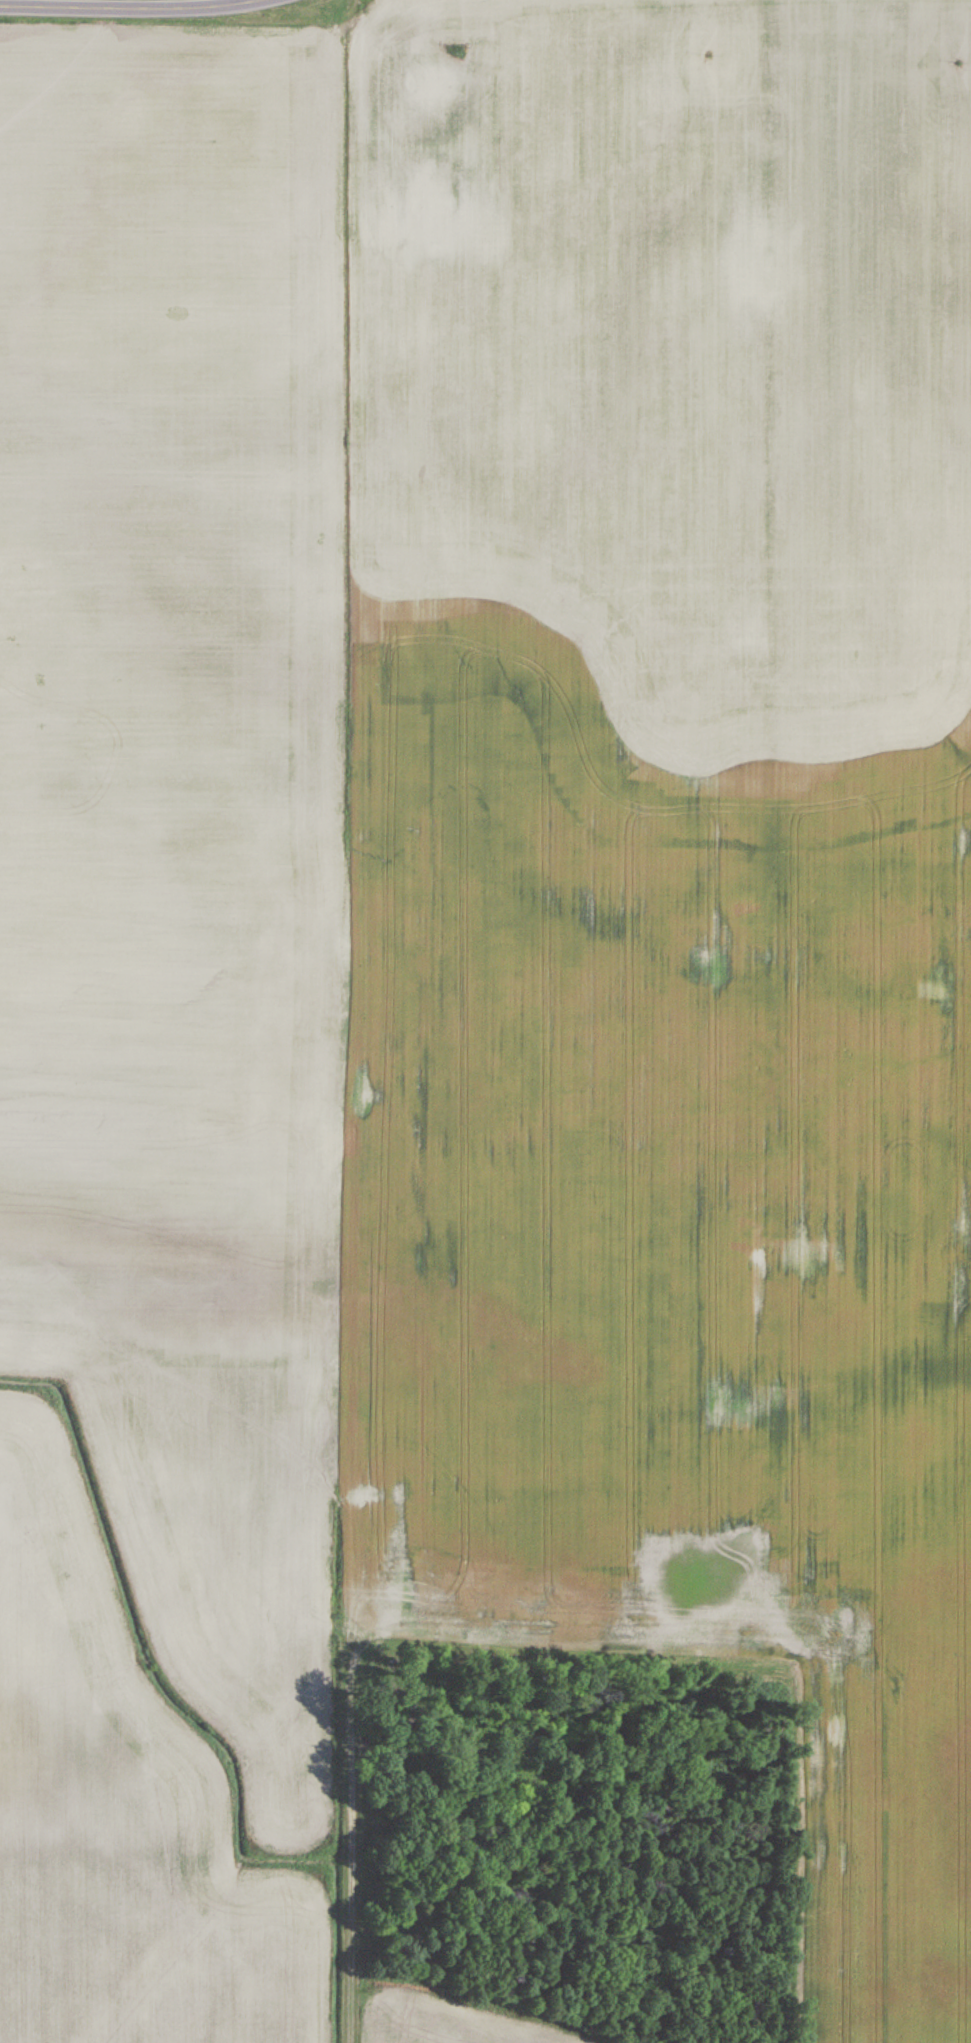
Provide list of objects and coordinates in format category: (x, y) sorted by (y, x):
road: (128, 6)
road: (359, 1021)

